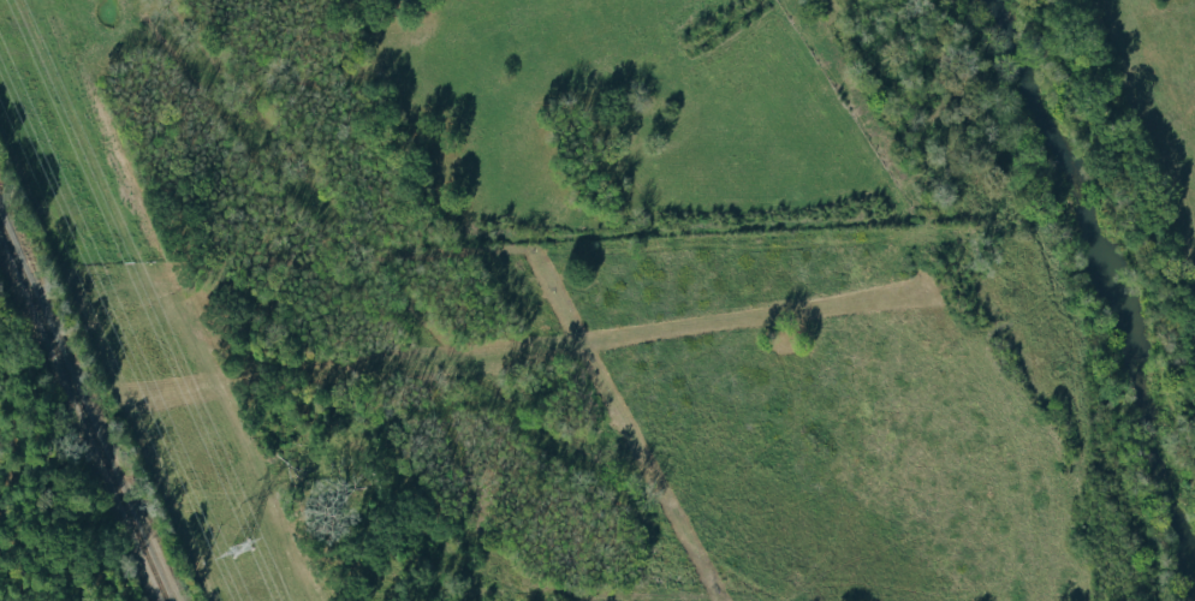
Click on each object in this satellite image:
river: (1108, 260)
railway: (82, 413)
power tower: (238, 549)

